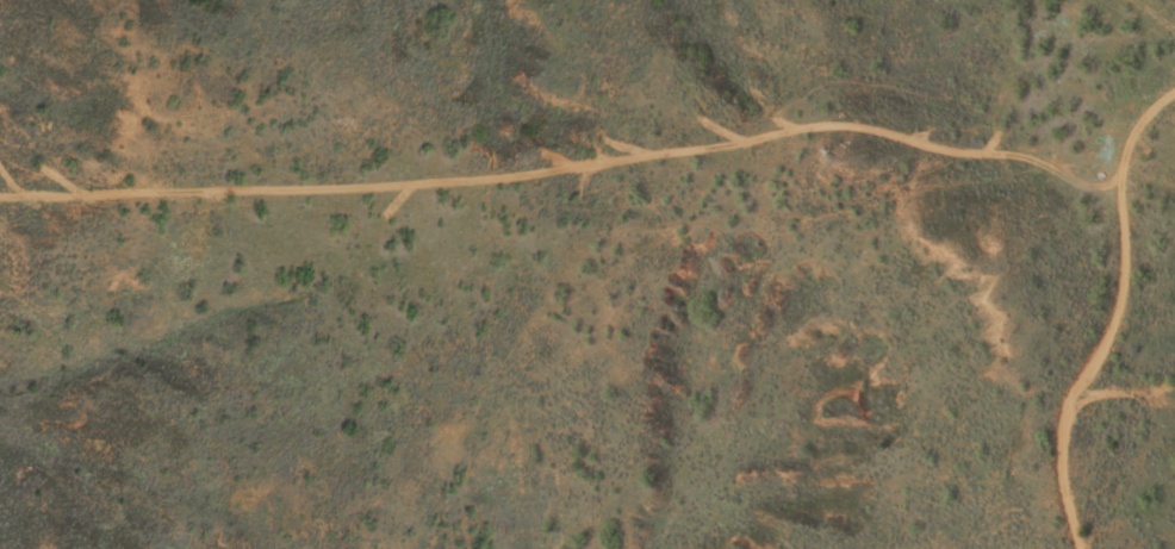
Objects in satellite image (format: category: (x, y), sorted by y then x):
road: (1113, 318)

